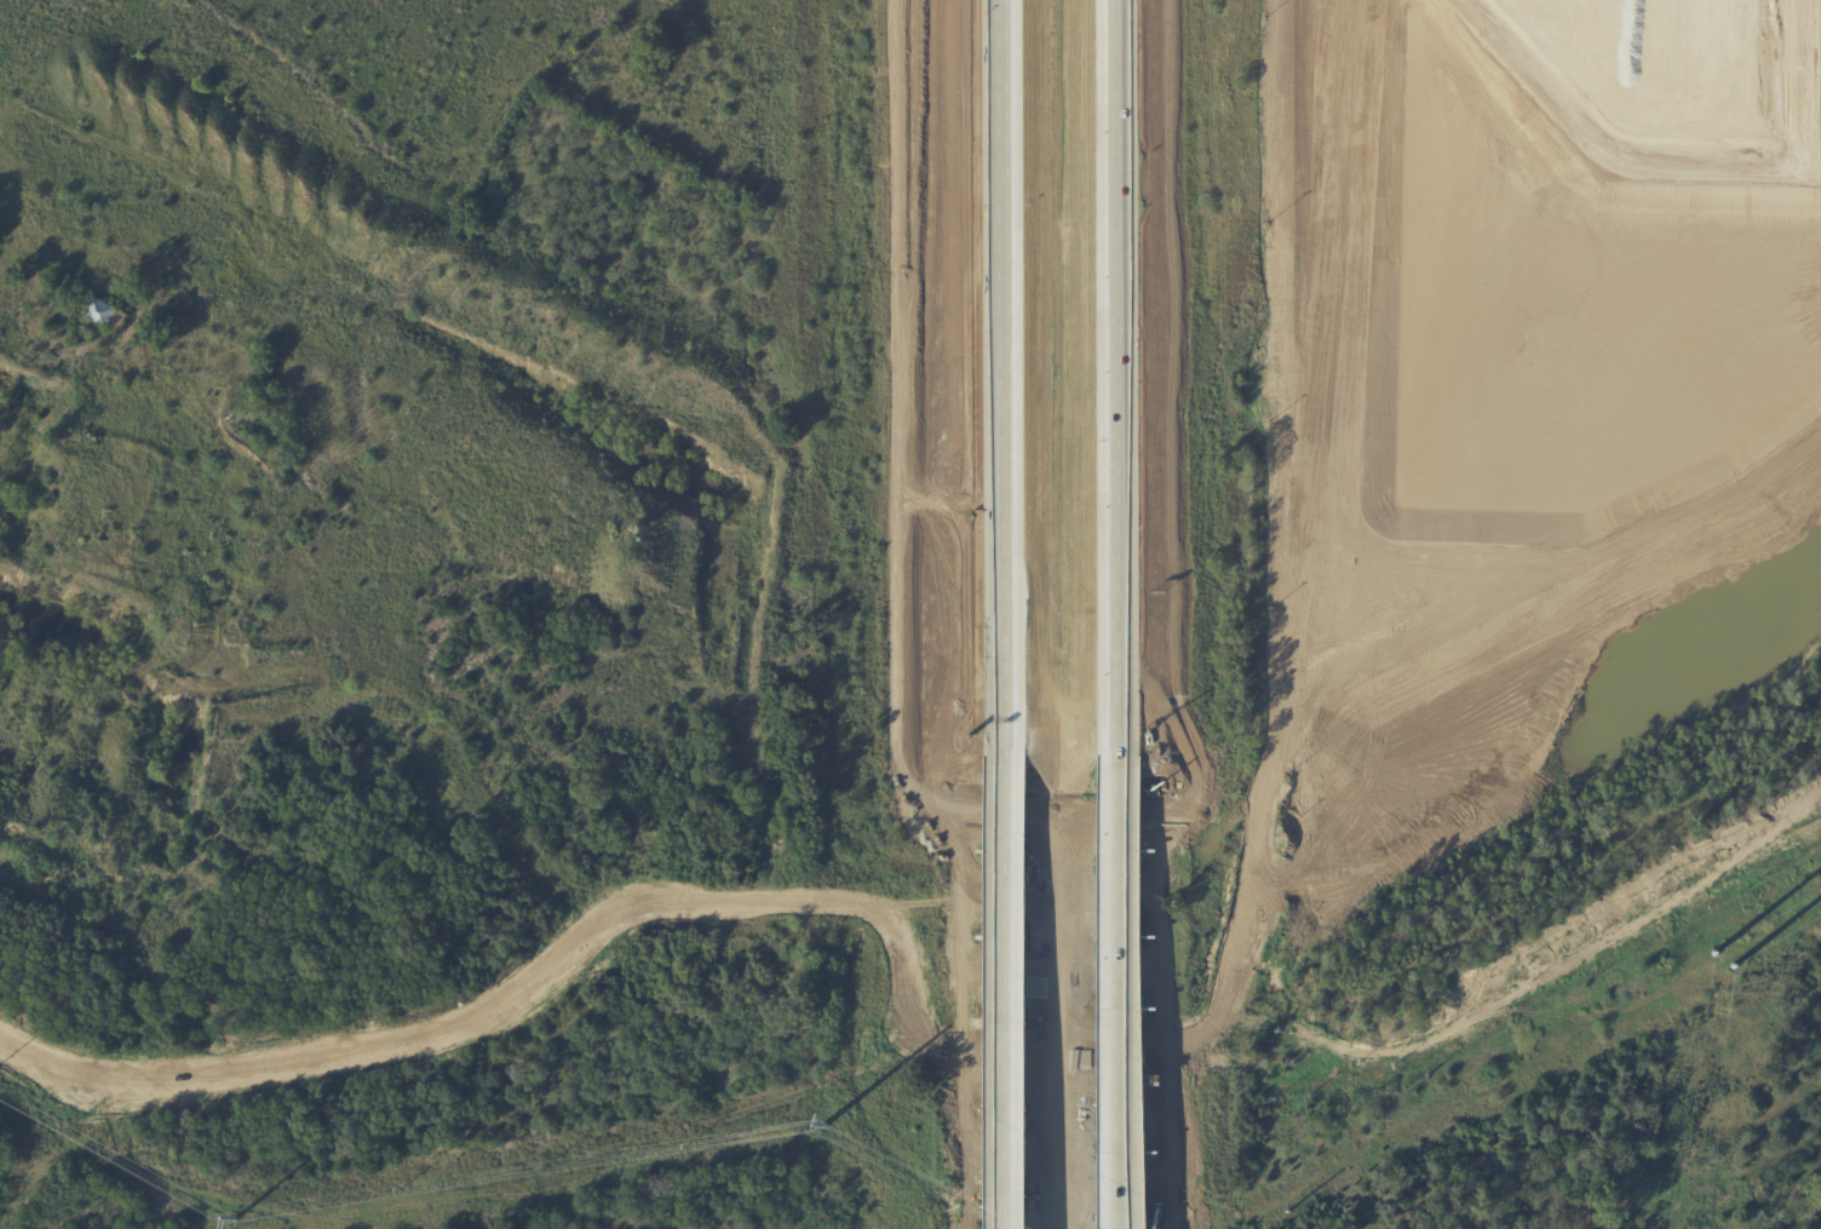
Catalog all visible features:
road: (1296, 8)
road: (1367, 10)
road: (1331, 18)
road: (1385, 31)
road: (1366, 38)
building: (1689, 63)
road: (1570, 160)
building: (104, 314)
road: (1118, 369)
road: (1001, 377)
building: (281, 410)
road: (1356, 495)
road: (1396, 568)
road: (1305, 925)
road: (1343, 949)
power tower: (1724, 963)
road: (1121, 984)
road: (1004, 990)
road: (1327, 992)
road: (475, 1013)
road: (1068, 1018)
road: (648, 1068)
road: (682, 1116)
power tower: (826, 1132)
power tower: (240, 1221)

